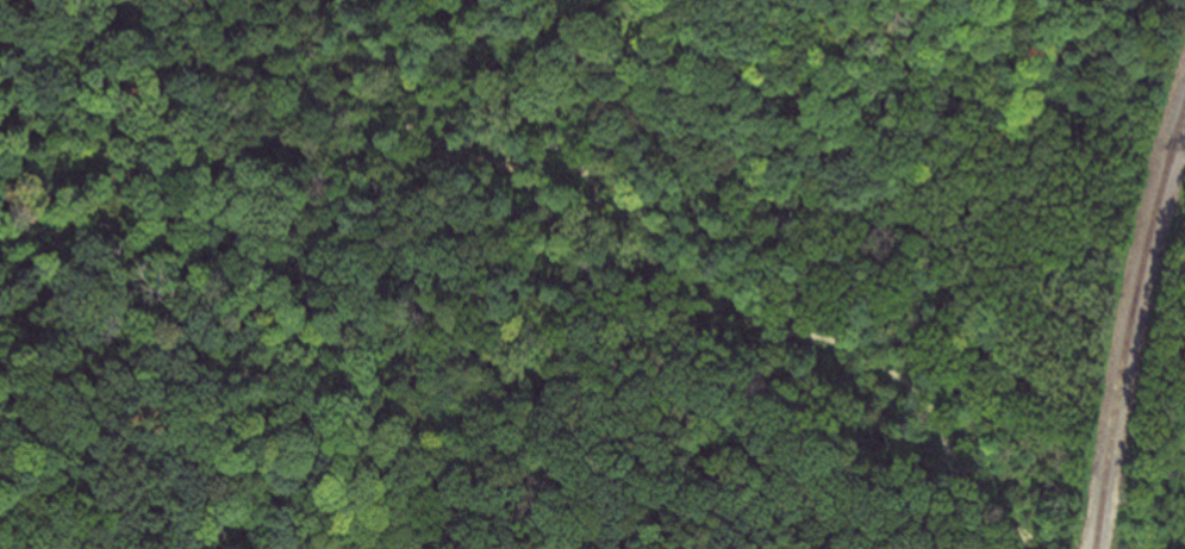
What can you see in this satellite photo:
railway: (1136, 333)

